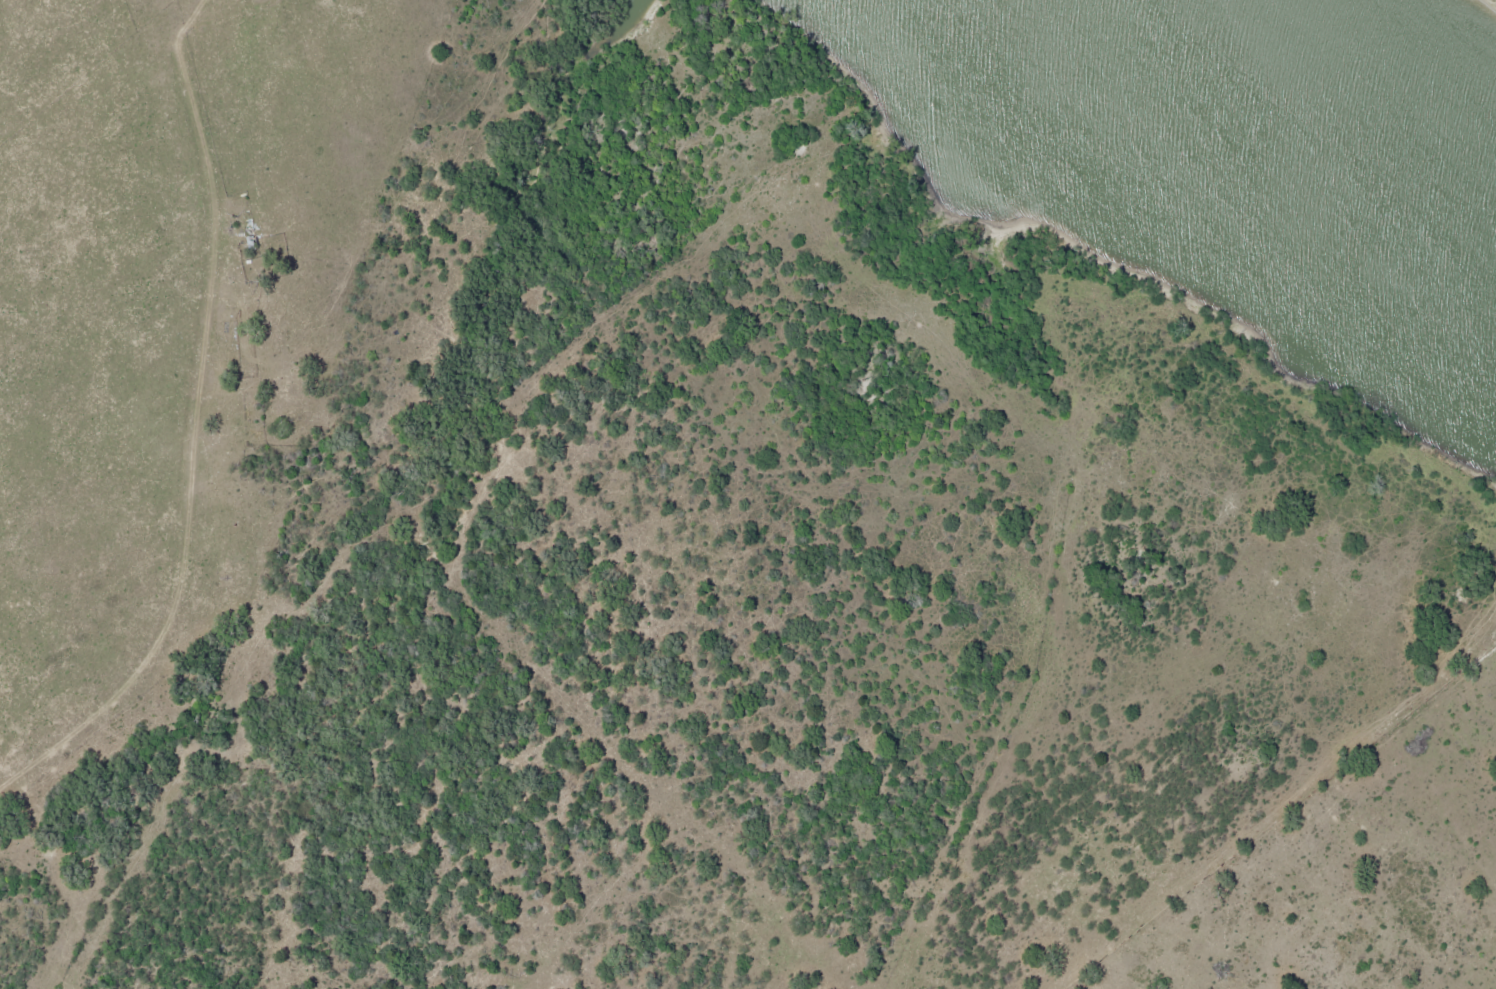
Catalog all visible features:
river: (1262, 97)
building: (253, 237)

